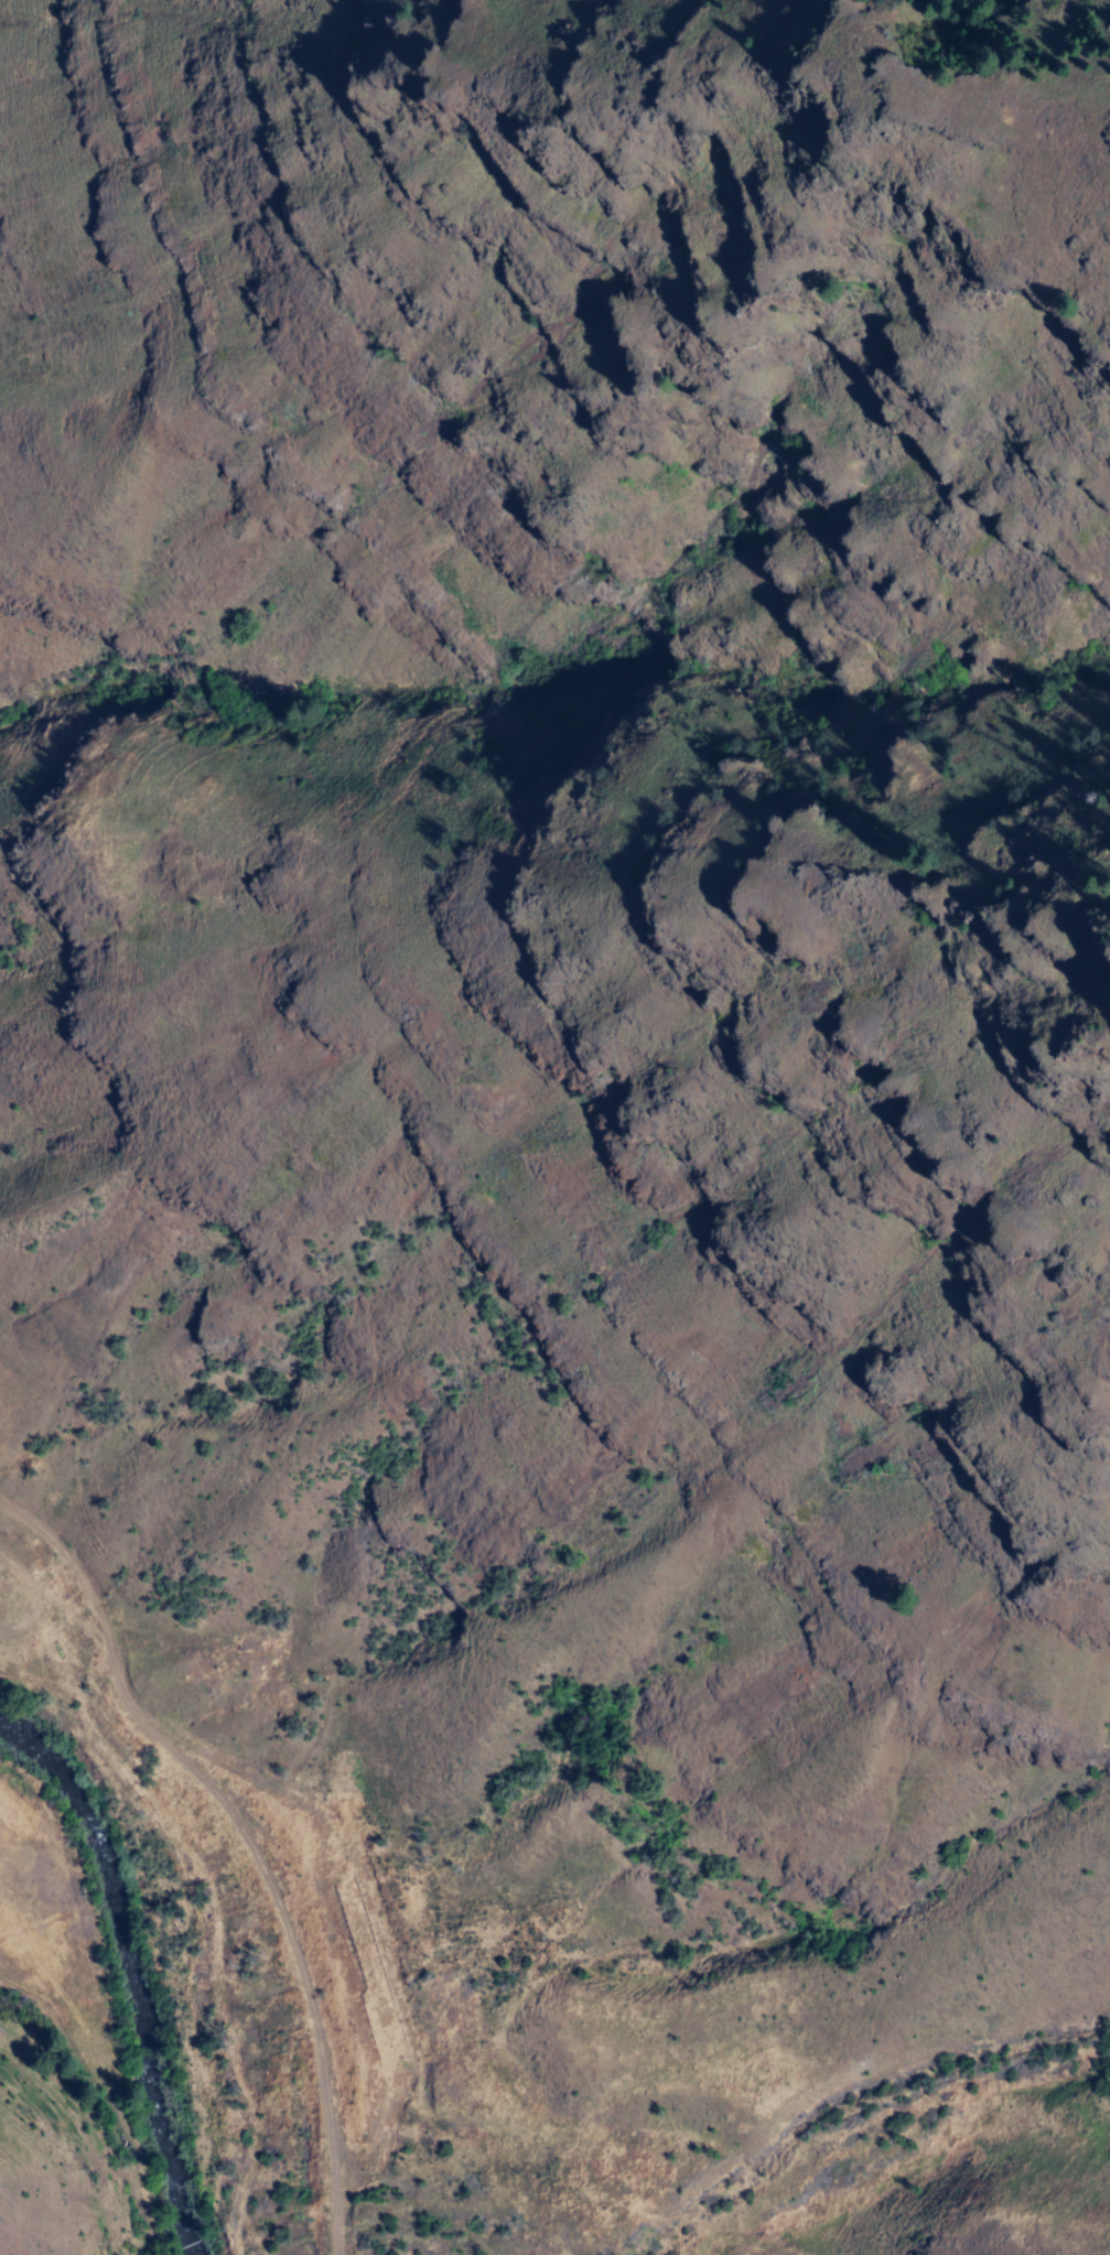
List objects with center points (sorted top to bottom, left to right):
road: (317, 1785)

